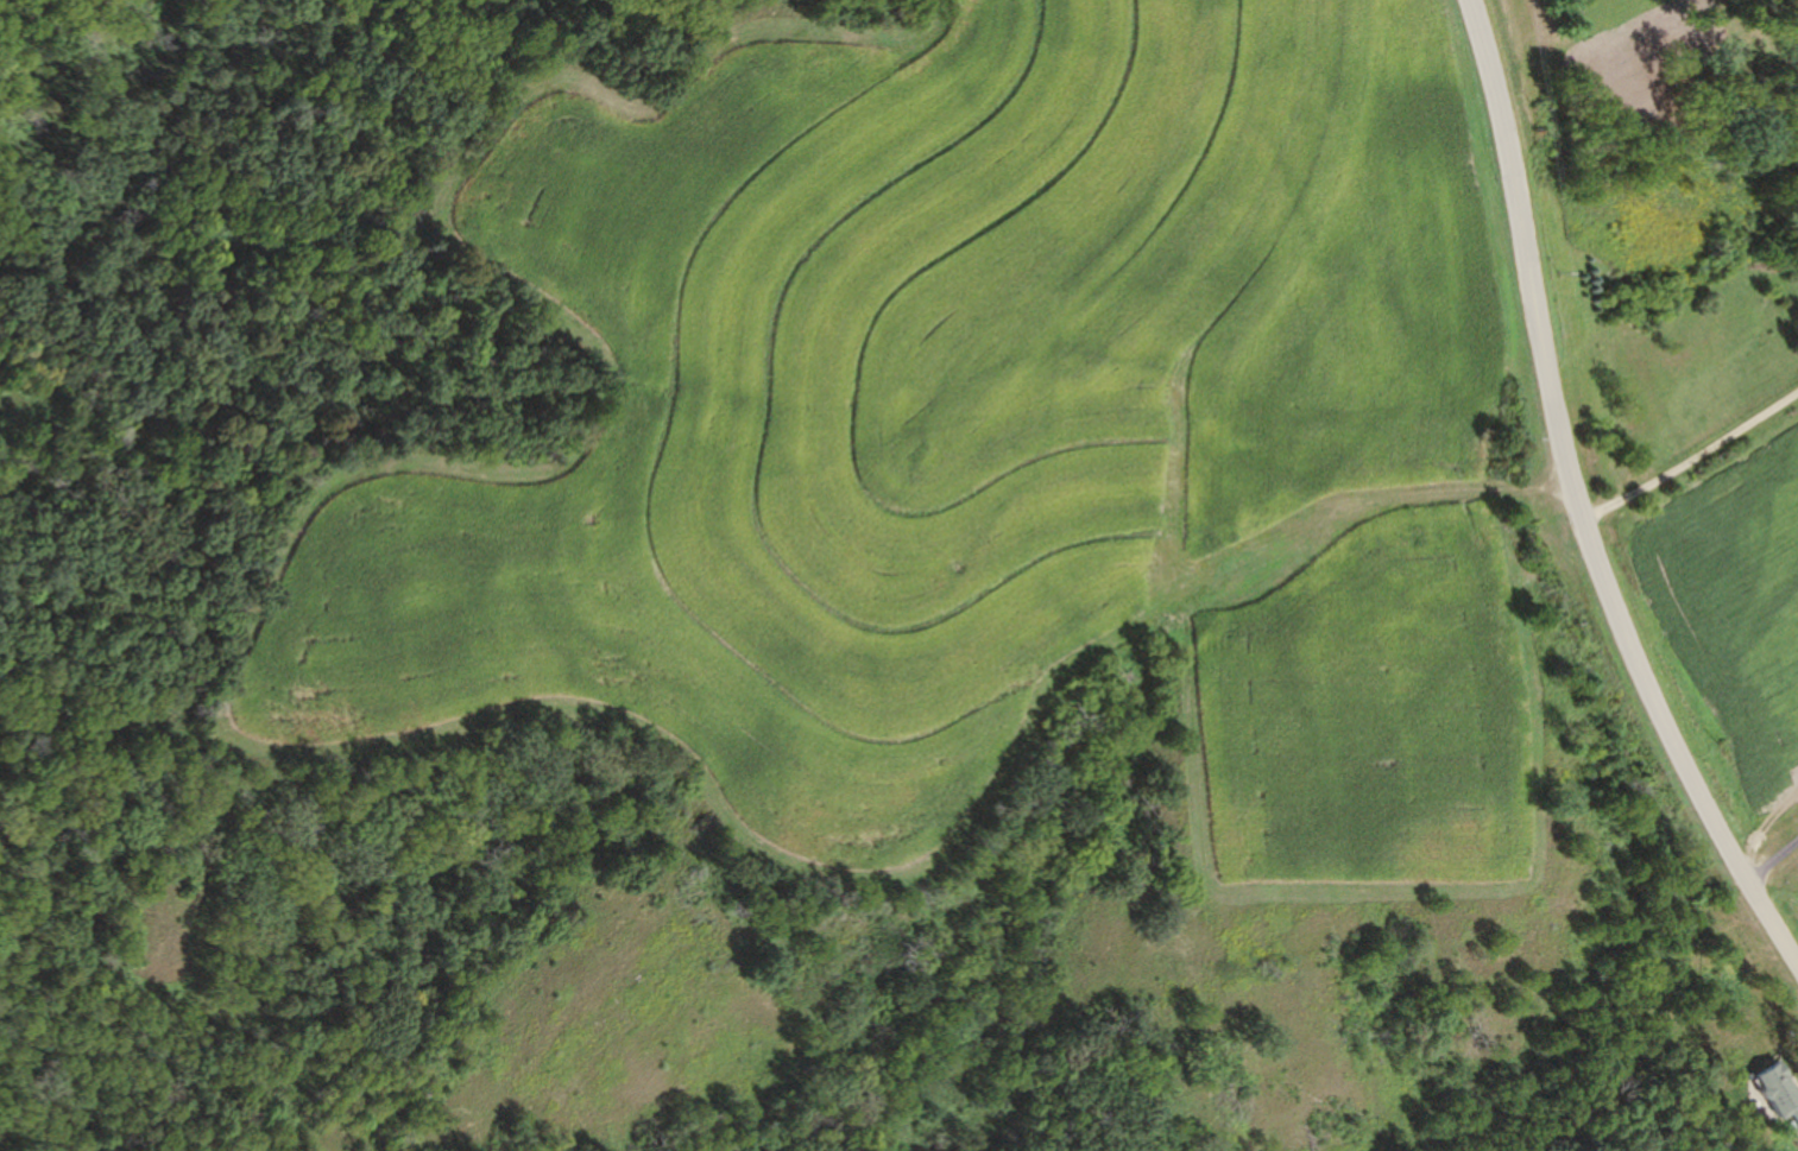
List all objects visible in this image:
road: (1690, 454)
road: (1576, 502)
road: (1771, 860)
building: (1774, 1094)

